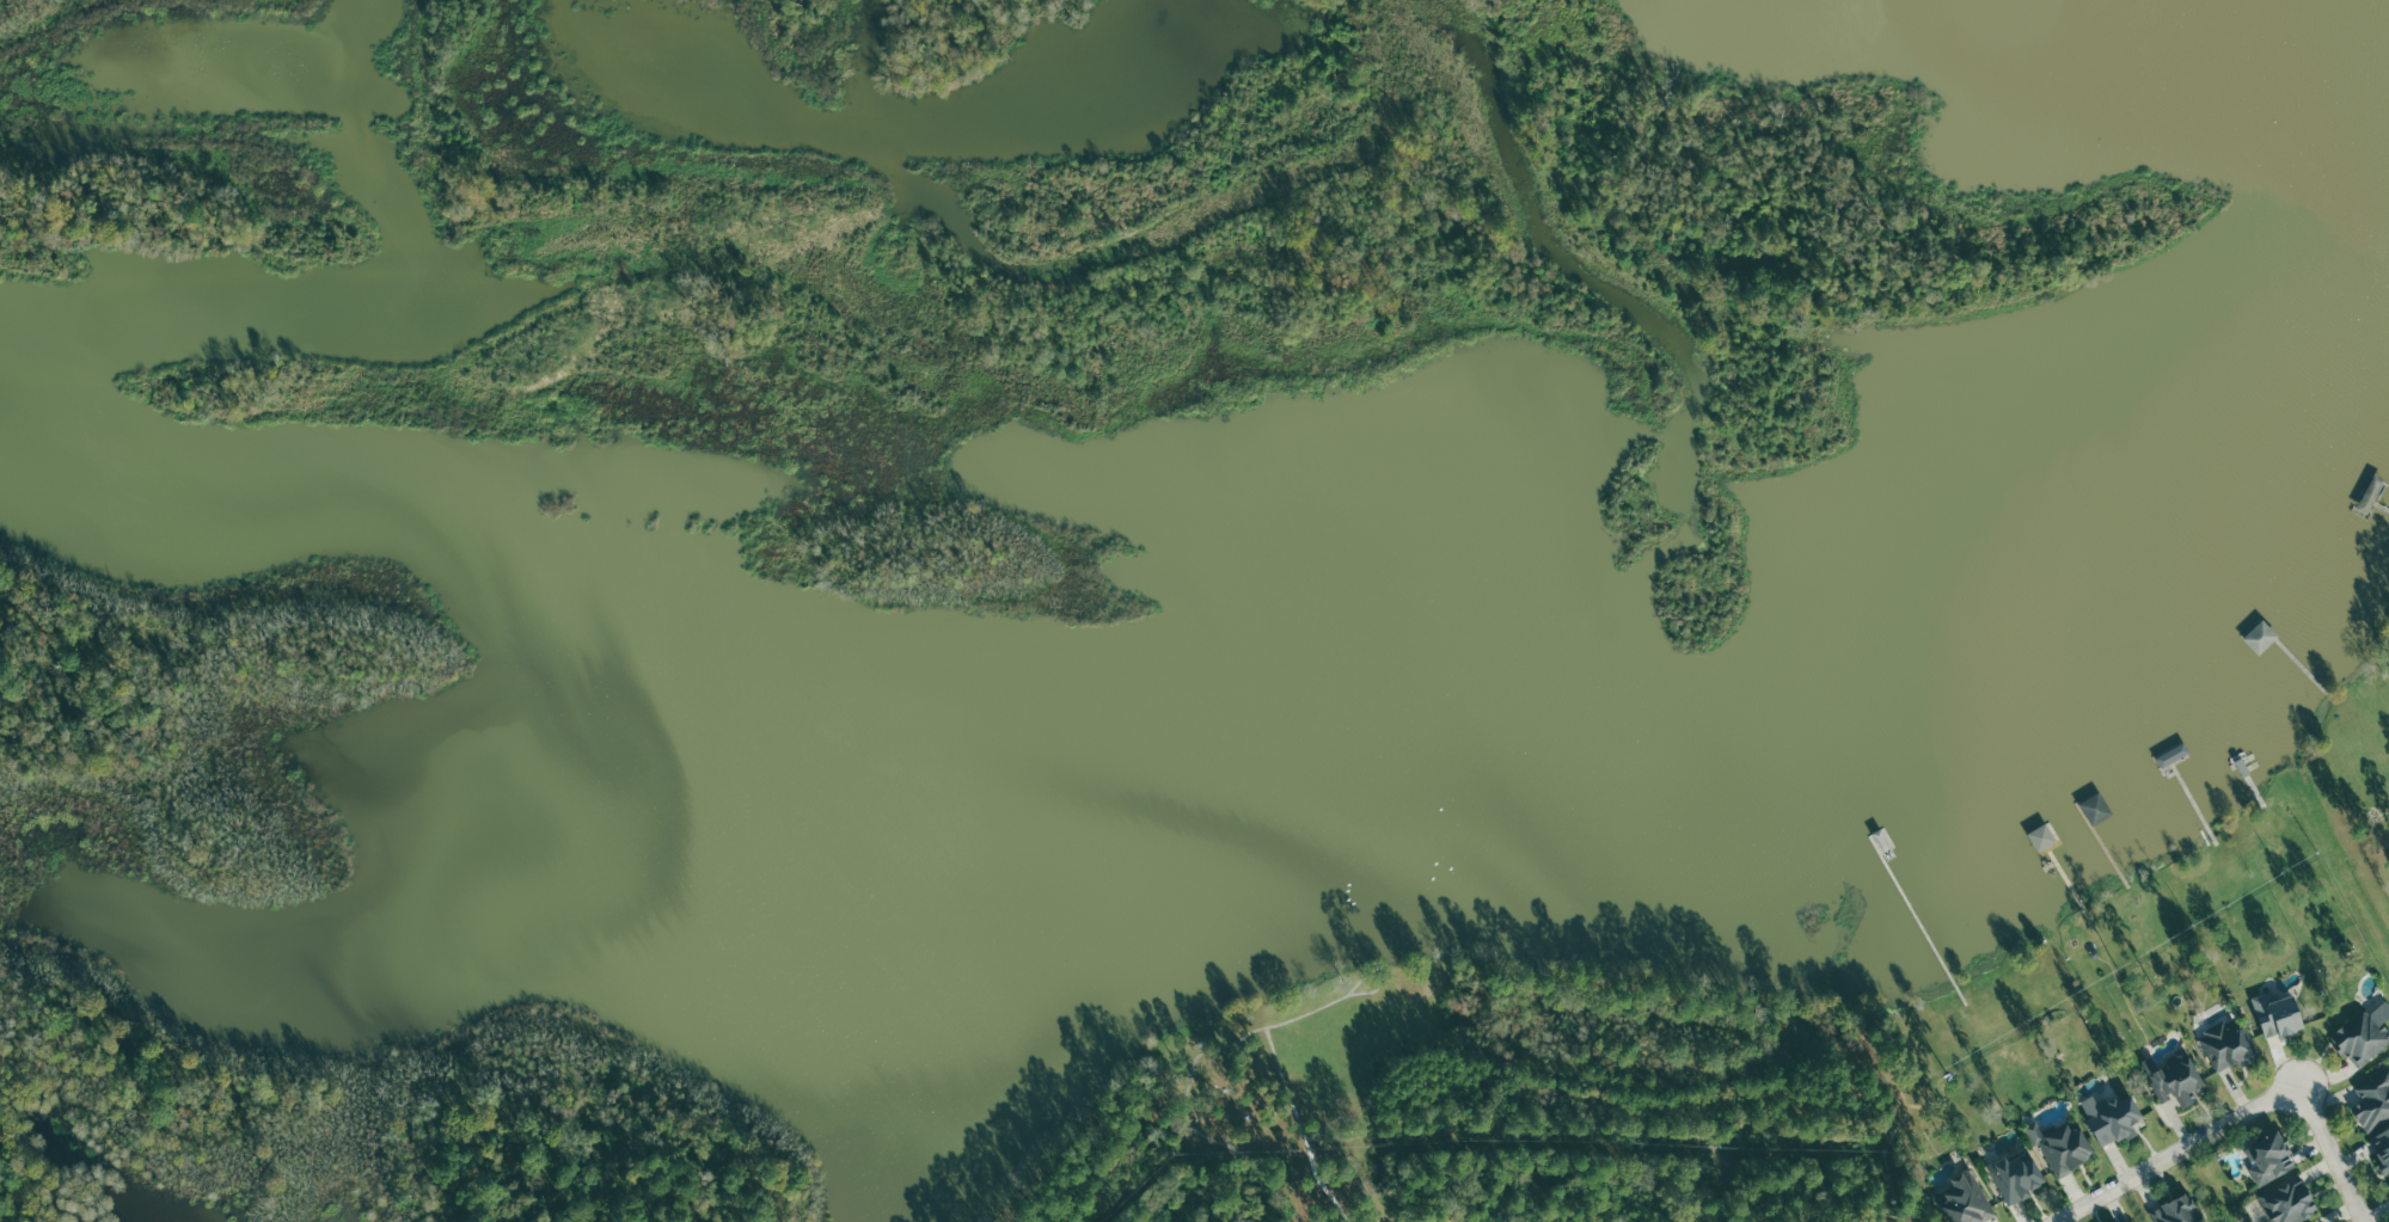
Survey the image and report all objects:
building: (2261, 637)
building: (2174, 755)
building: (2278, 1015)
building: (2362, 1038)
building: (2229, 1045)
road: (1206, 1055)
building: (2177, 1080)
park: (1307, 1094)
building: (2373, 1103)
building: (2114, 1118)
road: (2246, 1120)
road: (1299, 1129)
building: (2382, 1148)
building: (2068, 1149)
building: (2272, 1159)
building: (2016, 1178)
building: (1967, 1199)
building: (2290, 1203)
building: (2134, 1221)

